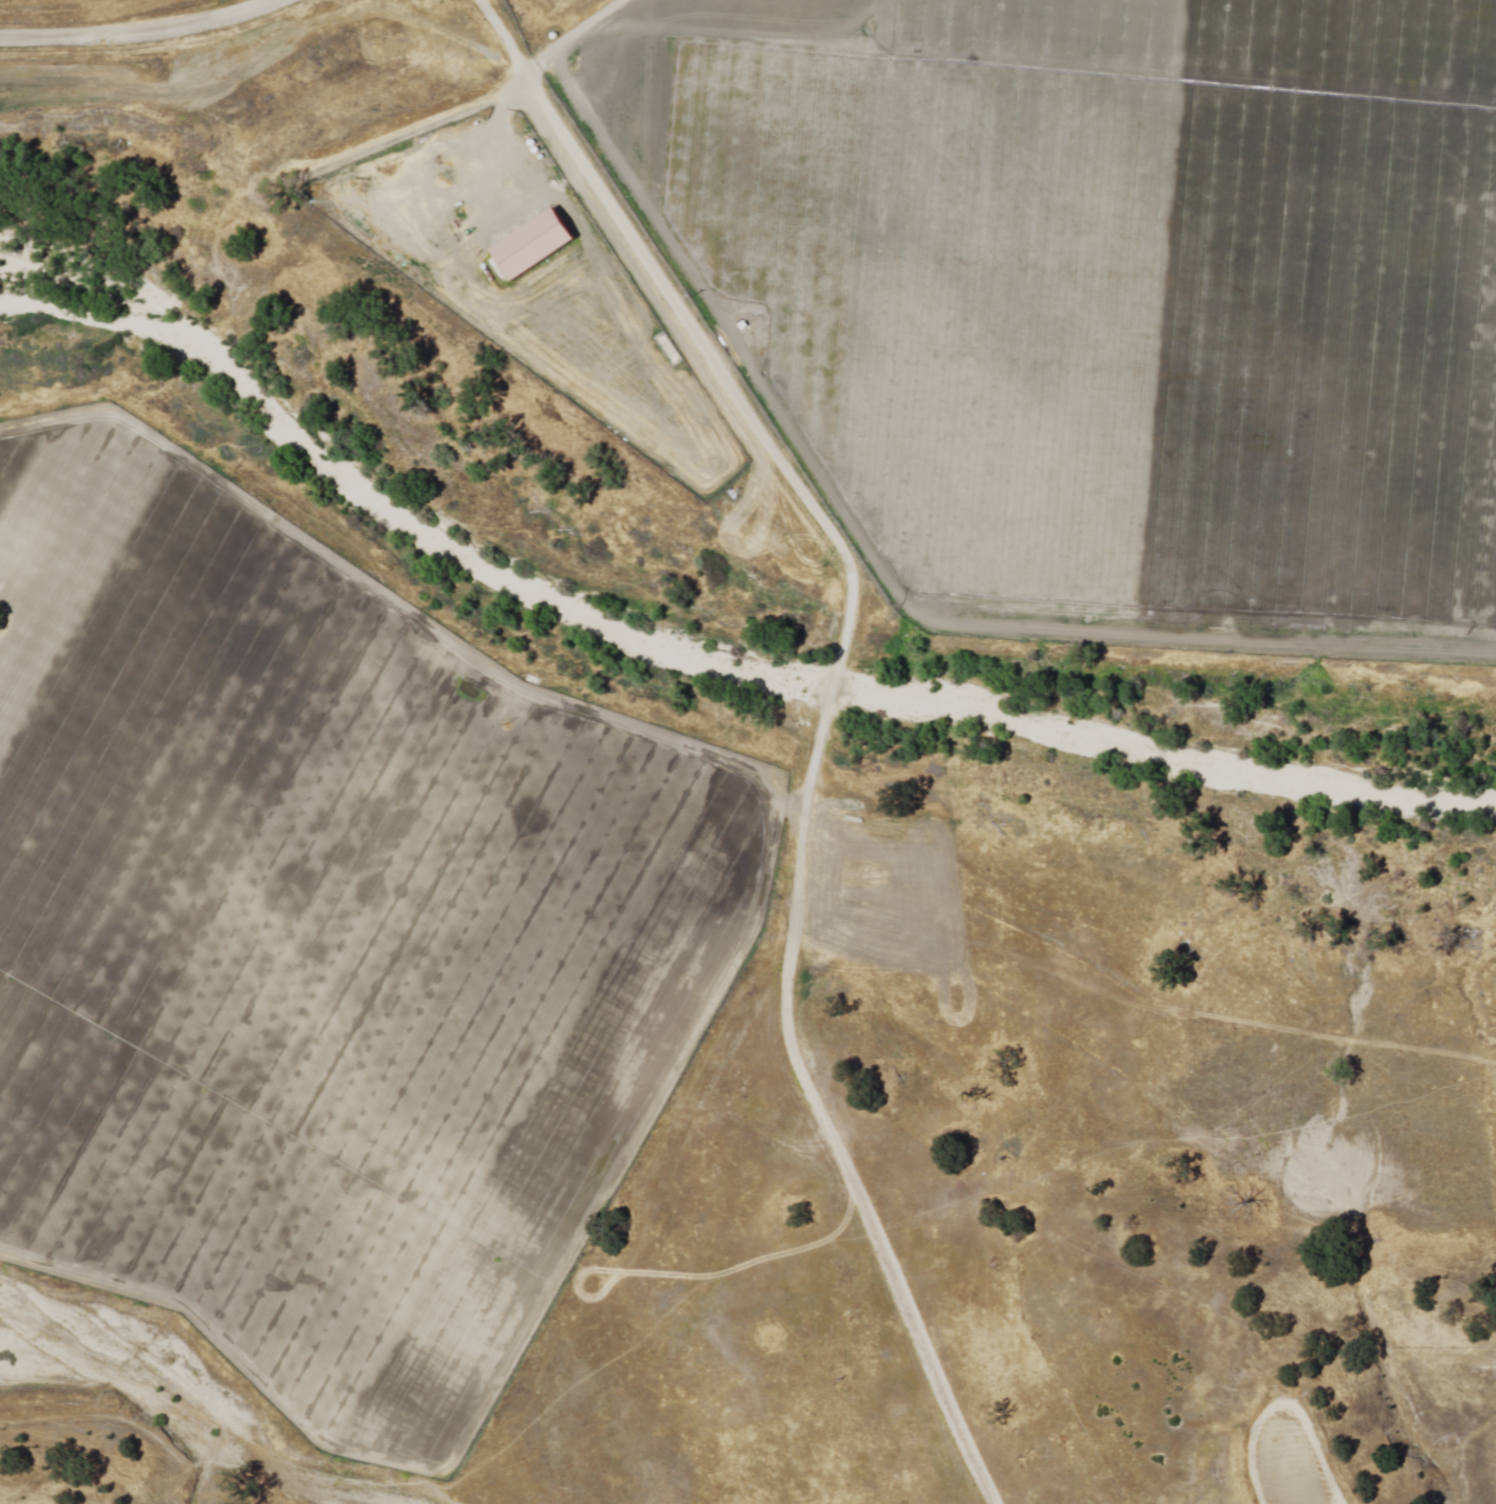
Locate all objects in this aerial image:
road: (145, 36)
building: (536, 247)
crop: (1109, 291)
river: (652, 660)
road: (826, 719)
road: (1286, 1405)

